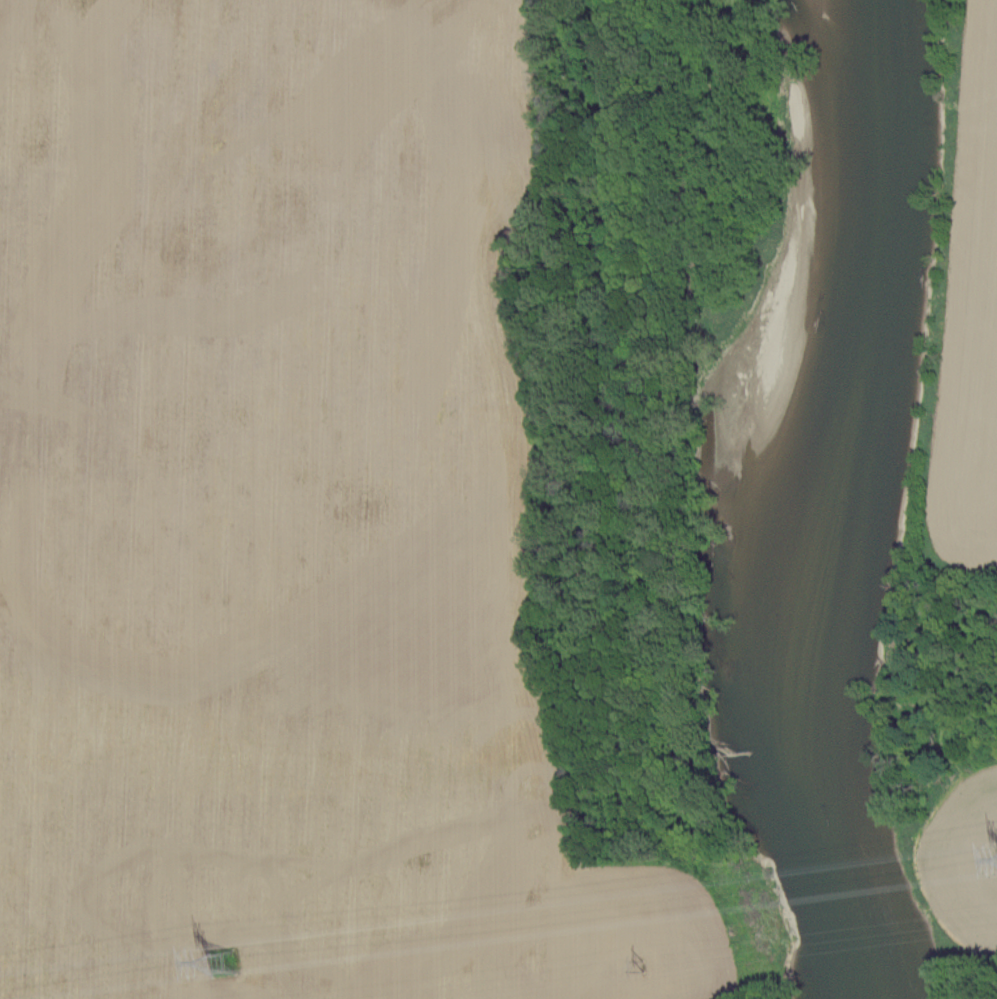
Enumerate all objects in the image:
river: (813, 503)
power tower: (221, 963)

